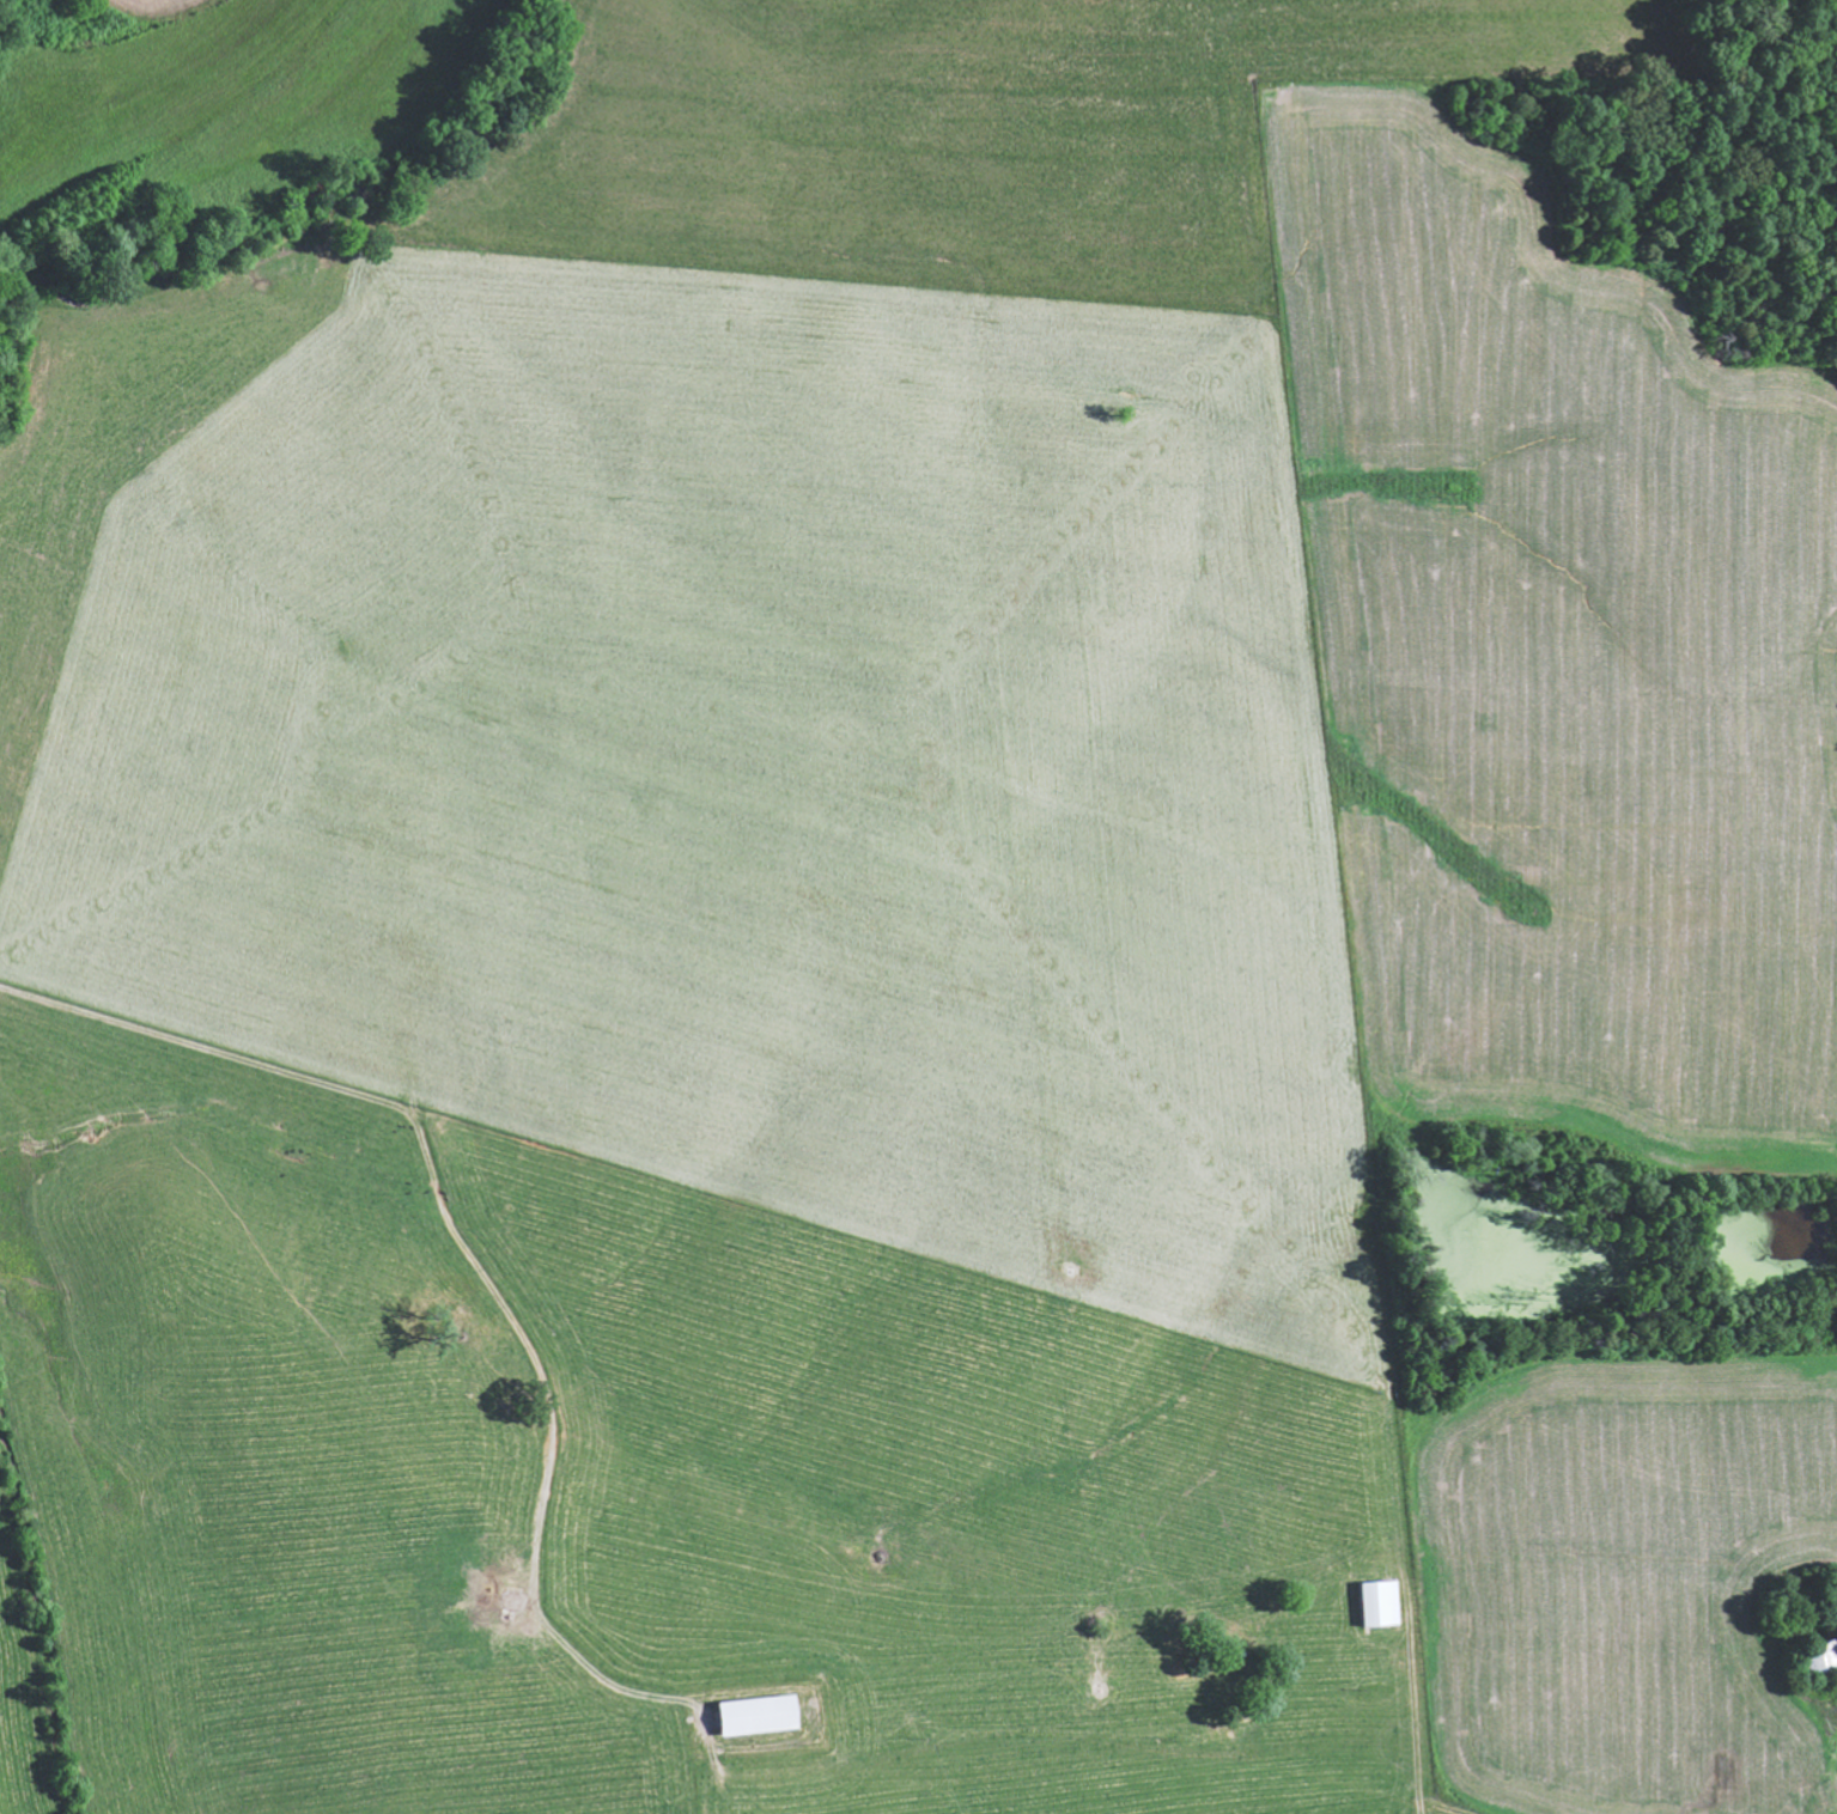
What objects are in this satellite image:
building: (1383, 1601)
building: (762, 1713)
road: (972, 1717)

